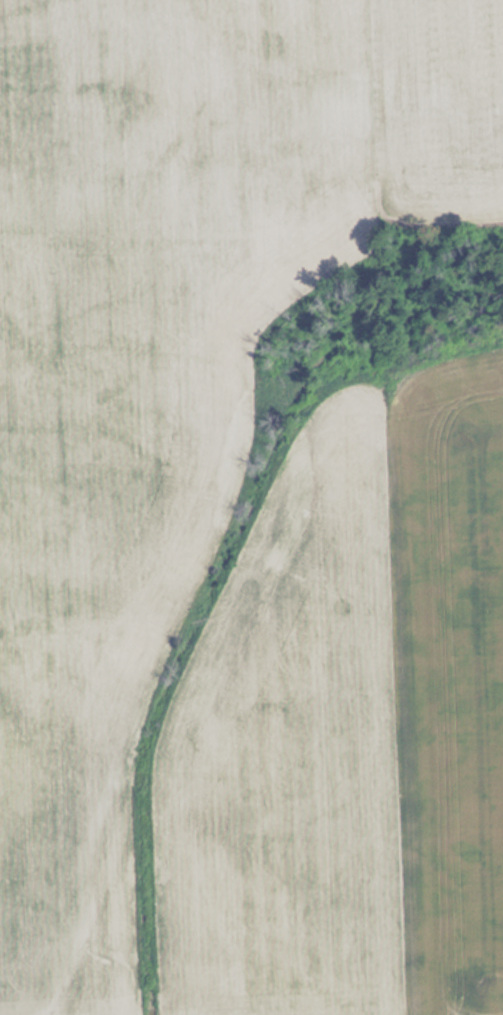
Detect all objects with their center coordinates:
crop: (251, 507)

